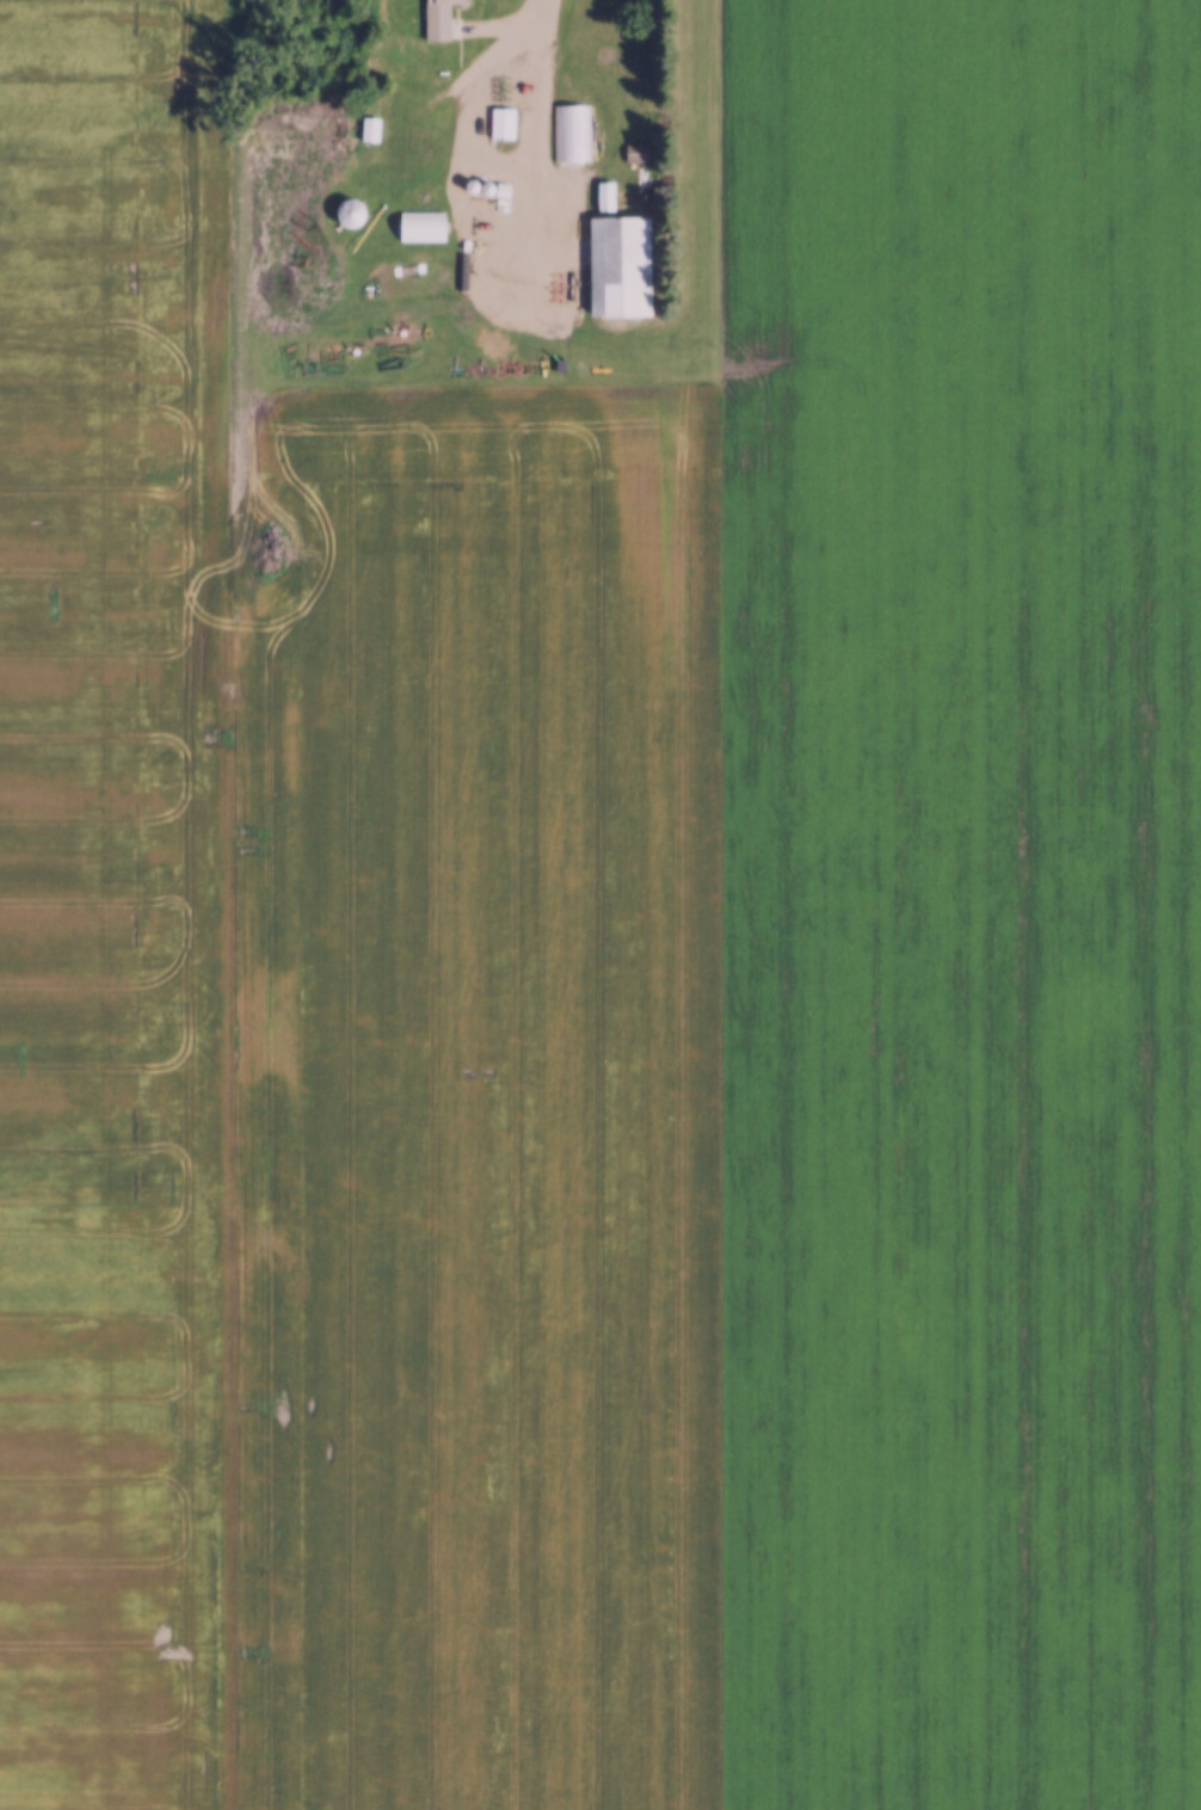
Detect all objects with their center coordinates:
building: (436, 18)
building: (500, 123)
building: (368, 130)
building: (569, 133)
building: (634, 153)
building: (603, 196)
building: (347, 214)
building: (419, 226)
road: (525, 241)
building: (617, 266)
airport runway: (684, 904)

